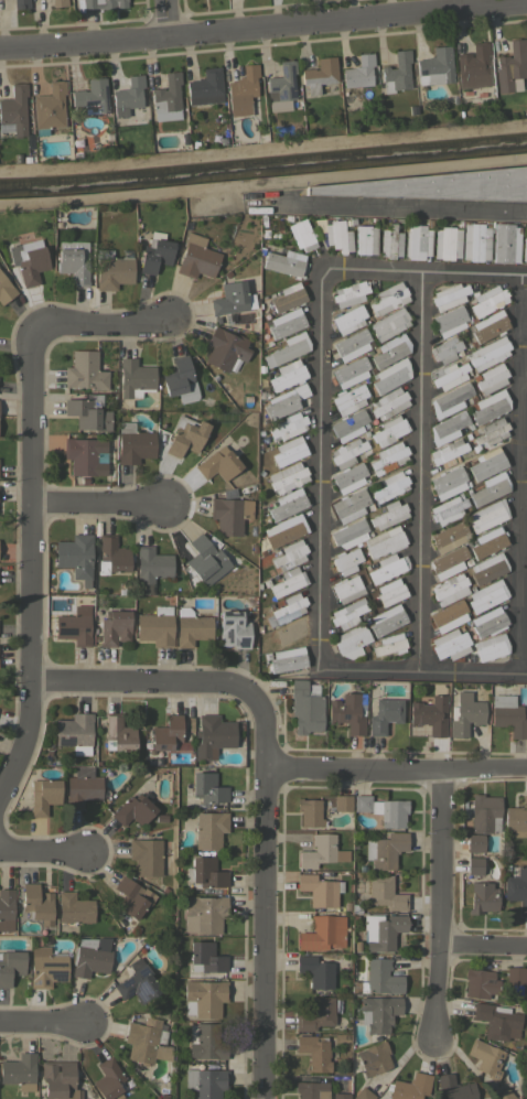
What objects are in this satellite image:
building: (58, 2)
building: (20, 3)
building: (97, 4)
road: (164, 21)
road: (263, 31)
building: (435, 66)
building: (473, 67)
building: (510, 67)
building: (358, 72)
building: (397, 73)
building: (320, 74)
building: (205, 87)
building: (281, 87)
building: (243, 90)
building: (92, 96)
building: (128, 96)
building: (166, 98)
building: (49, 108)
building: (13, 110)
building: (462, 119)
building: (222, 139)
building: (25, 158)
building: (440, 185)
road: (402, 207)
building: (302, 234)
building: (336, 235)
building: (365, 239)
building: (390, 241)
building: (417, 241)
building: (475, 241)
building: (447, 243)
building: (505, 243)
building: (524, 249)
building: (155, 250)
building: (196, 257)
building: (29, 260)
building: (73, 260)
building: (283, 262)
building: (111, 270)
road: (424, 272)
building: (6, 289)
building: (349, 293)
building: (449, 295)
building: (288, 297)
building: (389, 298)
building: (229, 299)
building: (488, 300)
building: (348, 320)
building: (450, 321)
building: (286, 323)
building: (389, 324)
building: (488, 326)
road: (100, 328)
building: (352, 345)
building: (290, 347)
building: (225, 348)
building: (390, 349)
building: (445, 349)
building: (487, 353)
building: (84, 370)
building: (351, 371)
building: (287, 375)
building: (390, 375)
building: (450, 375)
building: (135, 378)
building: (491, 378)
road: (523, 379)
building: (180, 380)
building: (348, 398)
building: (449, 400)
building: (284, 401)
building: (388, 402)
building: (490, 406)
building: (88, 412)
building: (348, 424)
building: (288, 427)
building: (447, 428)
building: (389, 430)
building: (490, 433)
building: (185, 435)
building: (133, 443)
building: (289, 450)
building: (346, 452)
building: (448, 453)
building: (84, 455)
building: (389, 456)
road: (523, 461)
building: (217, 463)
building: (487, 463)
road: (416, 471)
road: (518, 475)
building: (287, 477)
building: (348, 477)
building: (448, 482)
building: (390, 486)
building: (490, 488)
building: (287, 504)
road: (103, 505)
building: (349, 505)
building: (448, 509)
building: (229, 514)
building: (388, 514)
building: (487, 515)
building: (286, 530)
building: (348, 532)
building: (449, 537)
building: (384, 541)
building: (488, 541)
building: (289, 554)
building: (75, 556)
building: (110, 556)
building: (205, 558)
building: (346, 560)
building: (449, 562)
road: (31, 564)
building: (151, 565)
road: (316, 567)
building: (387, 568)
building: (488, 568)
road: (523, 569)
building: (288, 581)
building: (347, 589)
building: (450, 589)
building: (388, 593)
building: (486, 595)
building: (287, 608)
building: (347, 613)
building: (443, 617)
building: (387, 619)
building: (488, 622)
building: (74, 625)
building: (155, 626)
building: (114, 627)
building: (191, 627)
building: (233, 629)
building: (289, 635)
building: (351, 640)
building: (389, 644)
building: (450, 644)
building: (491, 647)
building: (287, 659)
road: (146, 681)
building: (305, 707)
building: (348, 712)
building: (429, 713)
building: (385, 714)
building: (465, 714)
building: (508, 715)
building: (75, 732)
building: (118, 733)
building: (166, 733)
building: (212, 735)
road: (395, 773)
building: (82, 786)
building: (207, 789)
building: (43, 796)
building: (342, 802)
building: (383, 809)
building: (133, 810)
building: (309, 811)
building: (484, 814)
building: (160, 818)
building: (516, 819)
building: (209, 829)
building: (474, 843)
road: (45, 850)
building: (385, 850)
building: (321, 851)
building: (146, 855)
building: (473, 865)
building: (205, 873)
building: (517, 887)
building: (320, 890)
building: (385, 893)
building: (132, 896)
road: (261, 897)
building: (482, 897)
building: (36, 903)
building: (74, 907)
building: (7, 908)
road: (438, 909)
building: (203, 914)
building: (381, 930)
building: (323, 933)
road: (482, 947)
building: (89, 957)
building: (205, 957)
building: (10, 966)
building: (46, 967)
building: (315, 971)
building: (514, 974)
building: (378, 978)
building: (480, 983)
building: (138, 984)
building: (204, 998)
building: (526, 1008)
building: (378, 1012)
building: (316, 1014)
building: (496, 1021)
road: (44, 1024)
building: (147, 1042)
building: (204, 1042)
building: (313, 1052)
building: (373, 1058)
building: (486, 1058)
building: (526, 1066)
building: (19, 1070)
building: (58, 1079)
building: (108, 1079)
building: (205, 1082)
building: (341, 1082)
building: (410, 1087)
building: (454, 1087)
building: (311, 1090)
building: (363, 1093)
building: (504, 1095)
building: (340, 1096)
building: (517, 1098)

